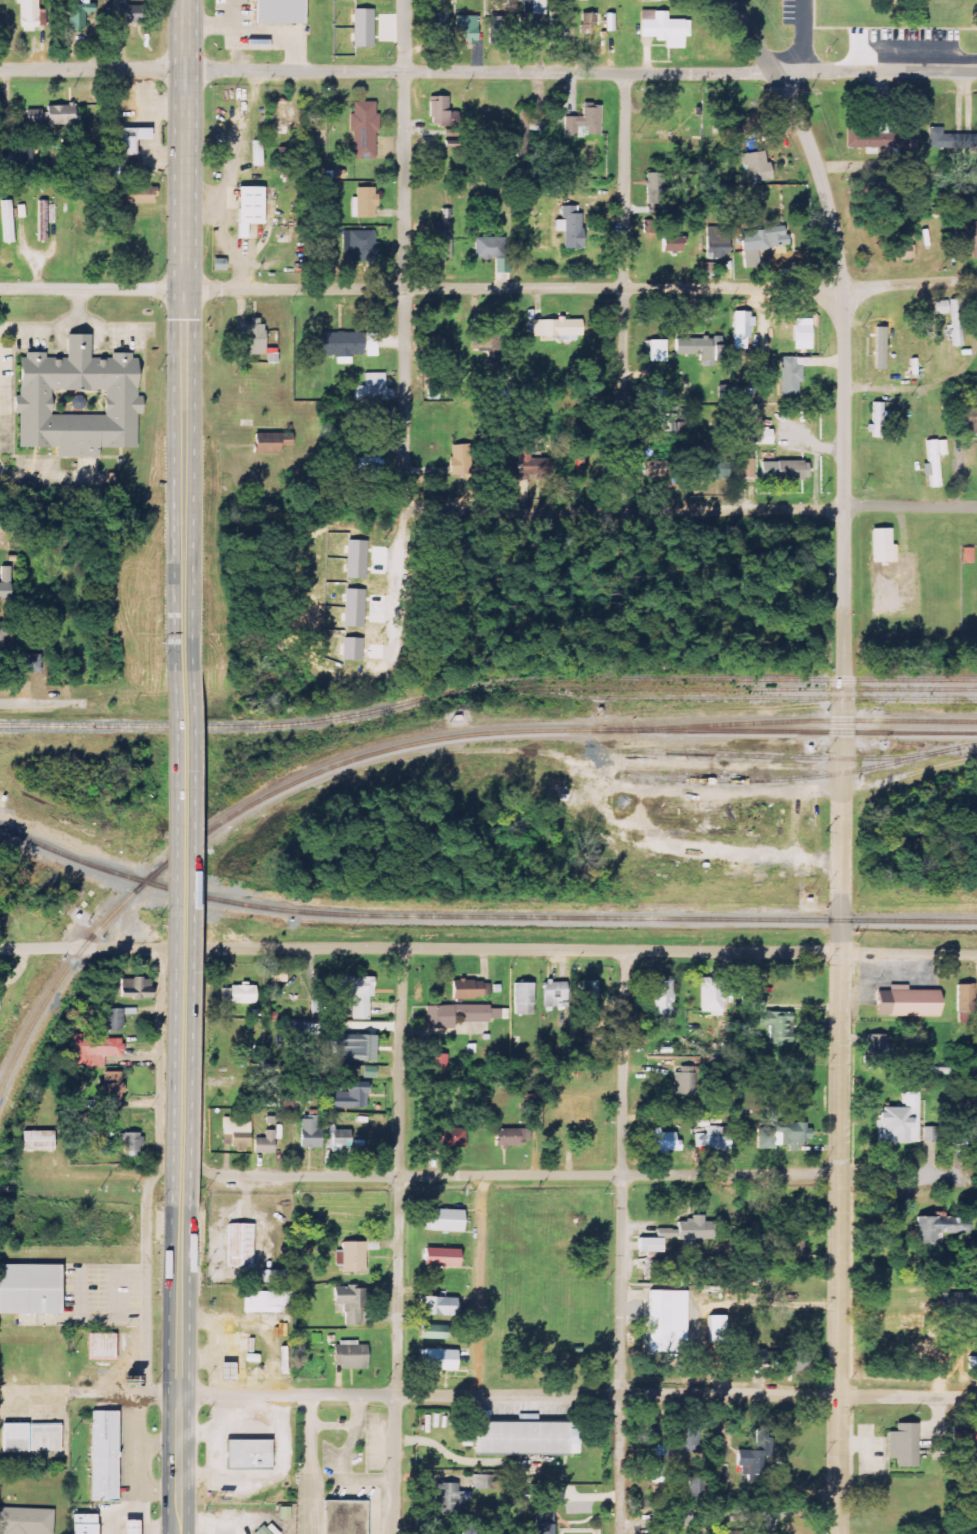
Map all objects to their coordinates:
building: (129, 11)
building: (276, 11)
building: (79, 12)
building: (31, 15)
building: (440, 22)
building: (527, 22)
building: (609, 22)
building: (587, 26)
building: (364, 27)
building: (466, 28)
building: (558, 28)
building: (664, 28)
building: (498, 29)
road: (804, 35)
road: (94, 70)
road: (583, 73)
building: (52, 115)
building: (281, 115)
building: (584, 121)
building: (364, 129)
building: (126, 139)
building: (855, 139)
building: (950, 139)
building: (902, 140)
building: (256, 152)
building: (757, 167)
building: (138, 194)
building: (365, 203)
building: (248, 205)
building: (8, 221)
building: (570, 226)
road: (407, 234)
building: (715, 236)
building: (967, 239)
building: (441, 240)
building: (361, 243)
building: (672, 244)
building: (760, 244)
building: (492, 252)
building: (901, 252)
road: (94, 287)
road: (582, 289)
road: (624, 290)
building: (941, 307)
building: (957, 322)
building: (742, 324)
building: (559, 328)
road: (187, 333)
building: (252, 337)
building: (342, 345)
building: (700, 347)
building: (880, 348)
building: (656, 351)
building: (748, 371)
building: (792, 376)
building: (372, 388)
building: (76, 400)
building: (744, 412)
building: (877, 421)
building: (969, 421)
building: (760, 437)
building: (264, 443)
building: (942, 448)
building: (459, 460)
building: (532, 462)
building: (933, 465)
building: (369, 468)
building: (745, 468)
building: (711, 469)
building: (784, 471)
road: (805, 509)
building: (883, 546)
building: (5, 583)
building: (3, 631)
building: (28, 663)
railway: (486, 686)
railway: (705, 690)
railway: (749, 698)
road: (41, 700)
railway: (786, 722)
railway: (413, 744)
road: (843, 752)
railway: (783, 757)
railway: (747, 781)
railway: (481, 916)
road: (182, 936)
road: (201, 950)
road: (690, 951)
building: (136, 987)
building: (471, 989)
building: (555, 993)
building: (588, 993)
building: (242, 994)
building: (356, 994)
building: (662, 995)
building: (711, 995)
building: (966, 997)
building: (524, 998)
building: (906, 1001)
building: (461, 1015)
building: (768, 1017)
building: (115, 1020)
building: (355, 1045)
building: (878, 1048)
building: (95, 1049)
building: (436, 1062)
building: (685, 1080)
building: (112, 1086)
building: (349, 1097)
building: (958, 1104)
building: (901, 1121)
building: (966, 1128)
building: (237, 1132)
building: (310, 1133)
building: (931, 1133)
building: (783, 1135)
building: (513, 1137)
building: (447, 1138)
building: (713, 1139)
building: (38, 1140)
building: (265, 1143)
building: (665, 1143)
building: (133, 1145)
road: (521, 1174)
building: (446, 1220)
building: (695, 1229)
building: (770, 1230)
building: (655, 1241)
road: (622, 1242)
building: (796, 1242)
road: (398, 1243)
building: (238, 1244)
building: (354, 1255)
building: (442, 1257)
building: (662, 1273)
road: (147, 1283)
road: (481, 1285)
building: (28, 1289)
building: (268, 1302)
building: (960, 1302)
building: (349, 1304)
building: (439, 1306)
building: (667, 1321)
building: (717, 1328)
building: (426, 1331)
building: (103, 1346)
building: (350, 1355)
building: (438, 1360)
road: (182, 1369)
road: (130, 1393)
road: (579, 1395)
building: (964, 1434)
building: (30, 1436)
building: (524, 1437)
building: (689, 1441)
building: (901, 1444)
building: (246, 1452)
building: (102, 1455)
building: (755, 1457)
building: (659, 1464)
building: (488, 1481)
building: (553, 1498)
building: (448, 1499)
building: (342, 1516)
building: (544, 1517)
building: (25, 1520)
building: (81, 1524)
building: (539, 1526)
building: (467, 1527)
building: (128, 1528)
building: (662, 1529)
building: (458, 1530)
building: (262, 1531)
building: (732, 1532)

